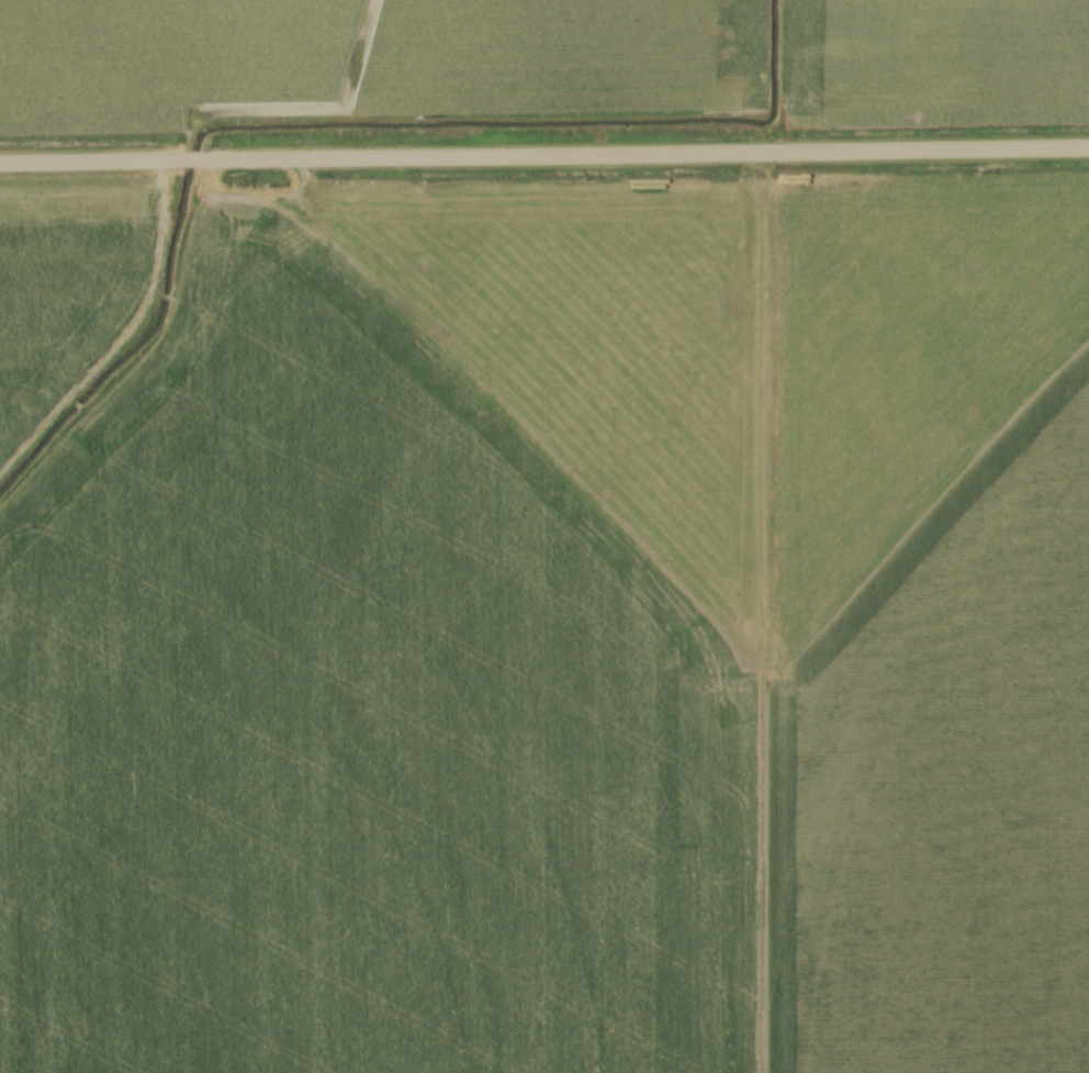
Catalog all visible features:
crop: (535, 68)
road: (544, 156)
crop: (546, 623)

